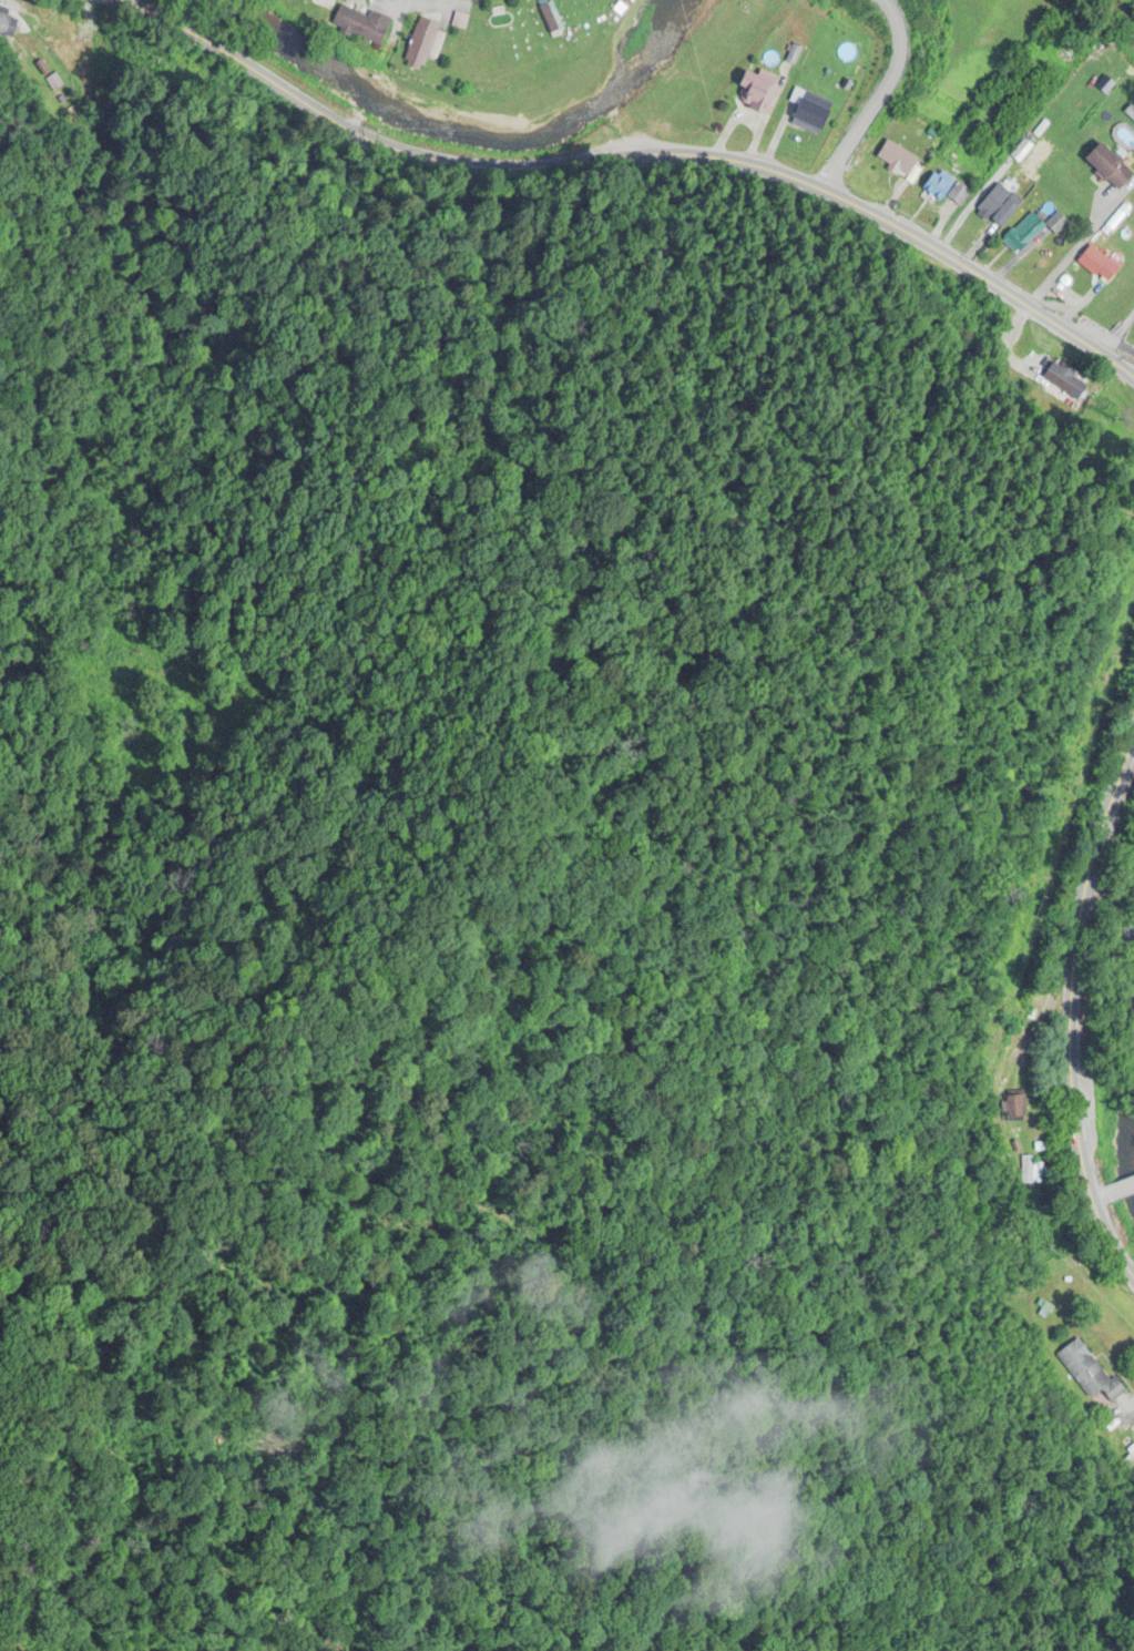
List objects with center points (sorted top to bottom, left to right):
river: (1124, 13)
building: (548, 19)
road: (398, 24)
building: (361, 26)
building: (7, 28)
building: (423, 44)
road: (375, 81)
building: (756, 92)
road: (879, 100)
building: (810, 112)
river: (453, 123)
road: (355, 124)
building: (897, 159)
road: (625, 160)
building: (1110, 167)
building: (946, 188)
building: (994, 207)
building: (1056, 224)
building: (1023, 232)
building: (1097, 264)
road: (1100, 337)
building: (1067, 381)
road: (1069, 1010)
river: (1128, 1105)
building: (1016, 1108)
building: (1030, 1170)
road: (1116, 1184)
road: (1093, 1193)
building: (1087, 1373)

